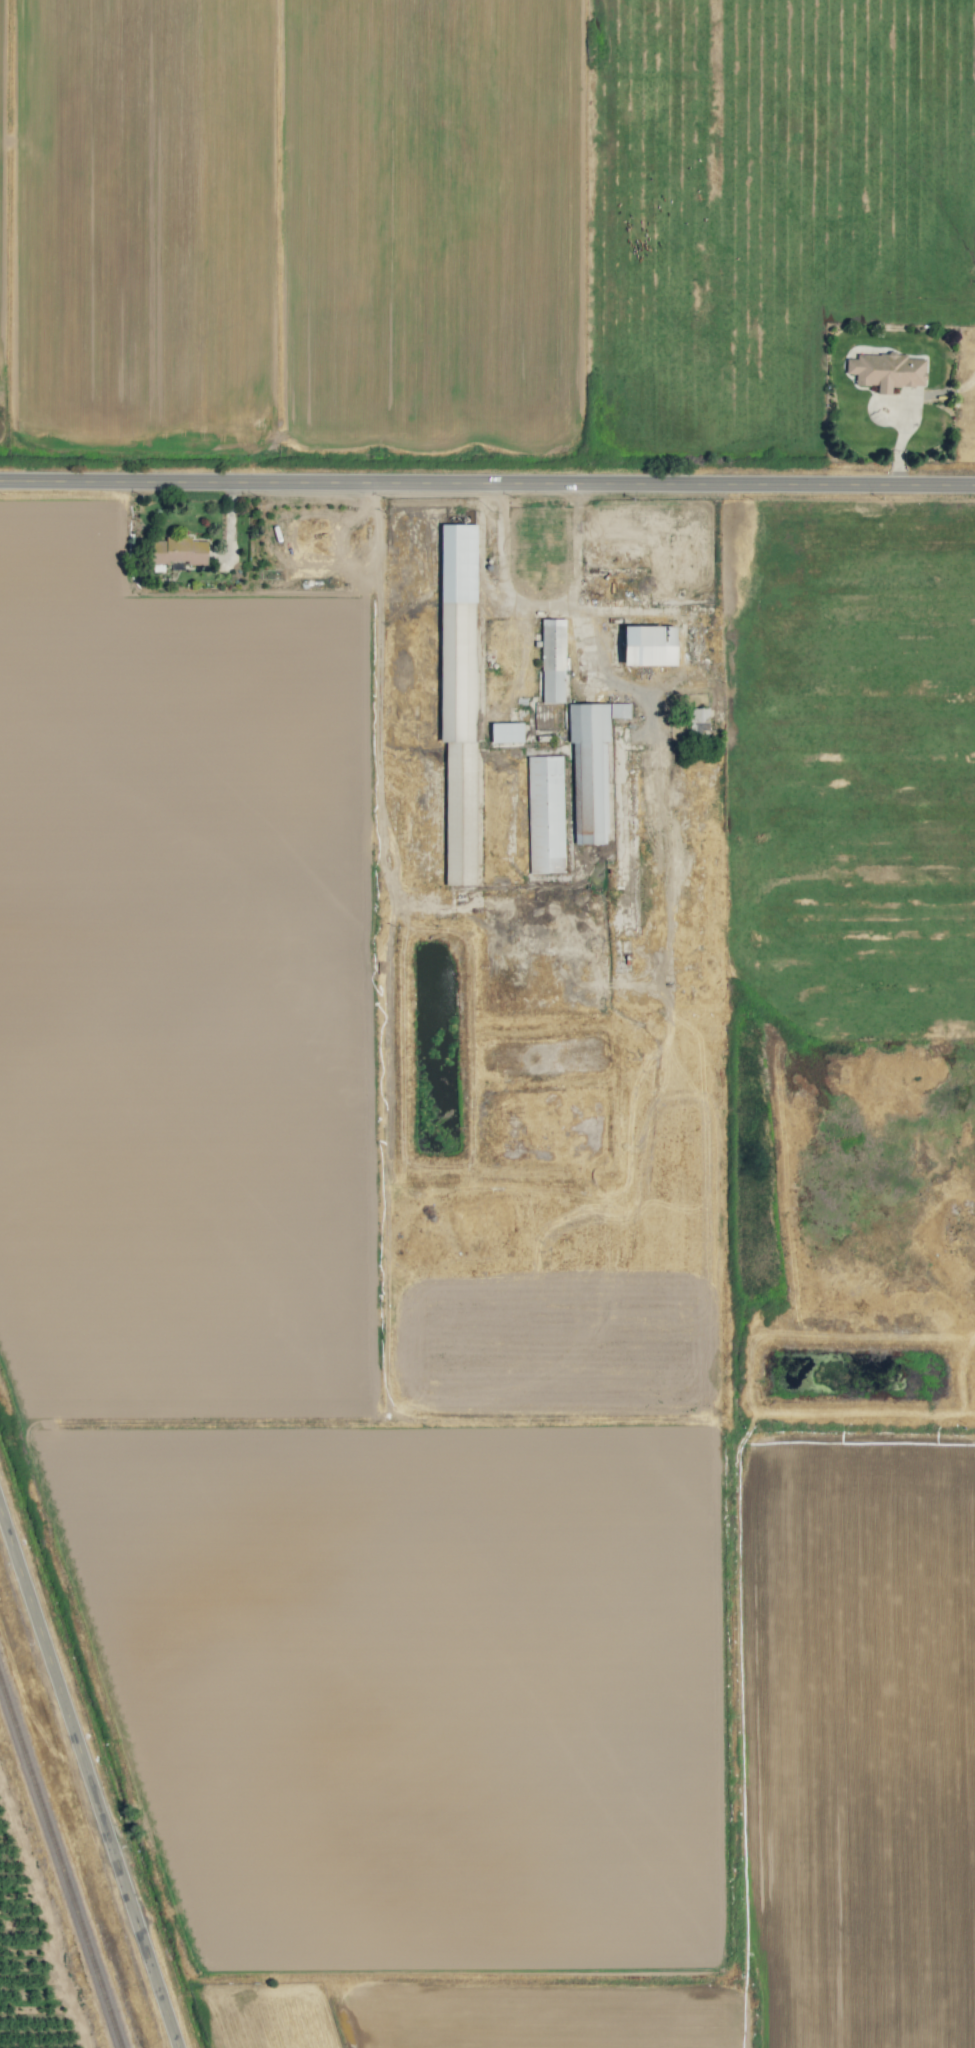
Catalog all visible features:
building: (886, 370)
road: (487, 481)
building: (178, 551)
building: (649, 645)
building: (553, 660)
building: (458, 696)
building: (698, 718)
building: (506, 732)
building: (591, 767)
building: (545, 814)
road: (92, 1763)
railway: (60, 1863)
crop: (27, 1964)

